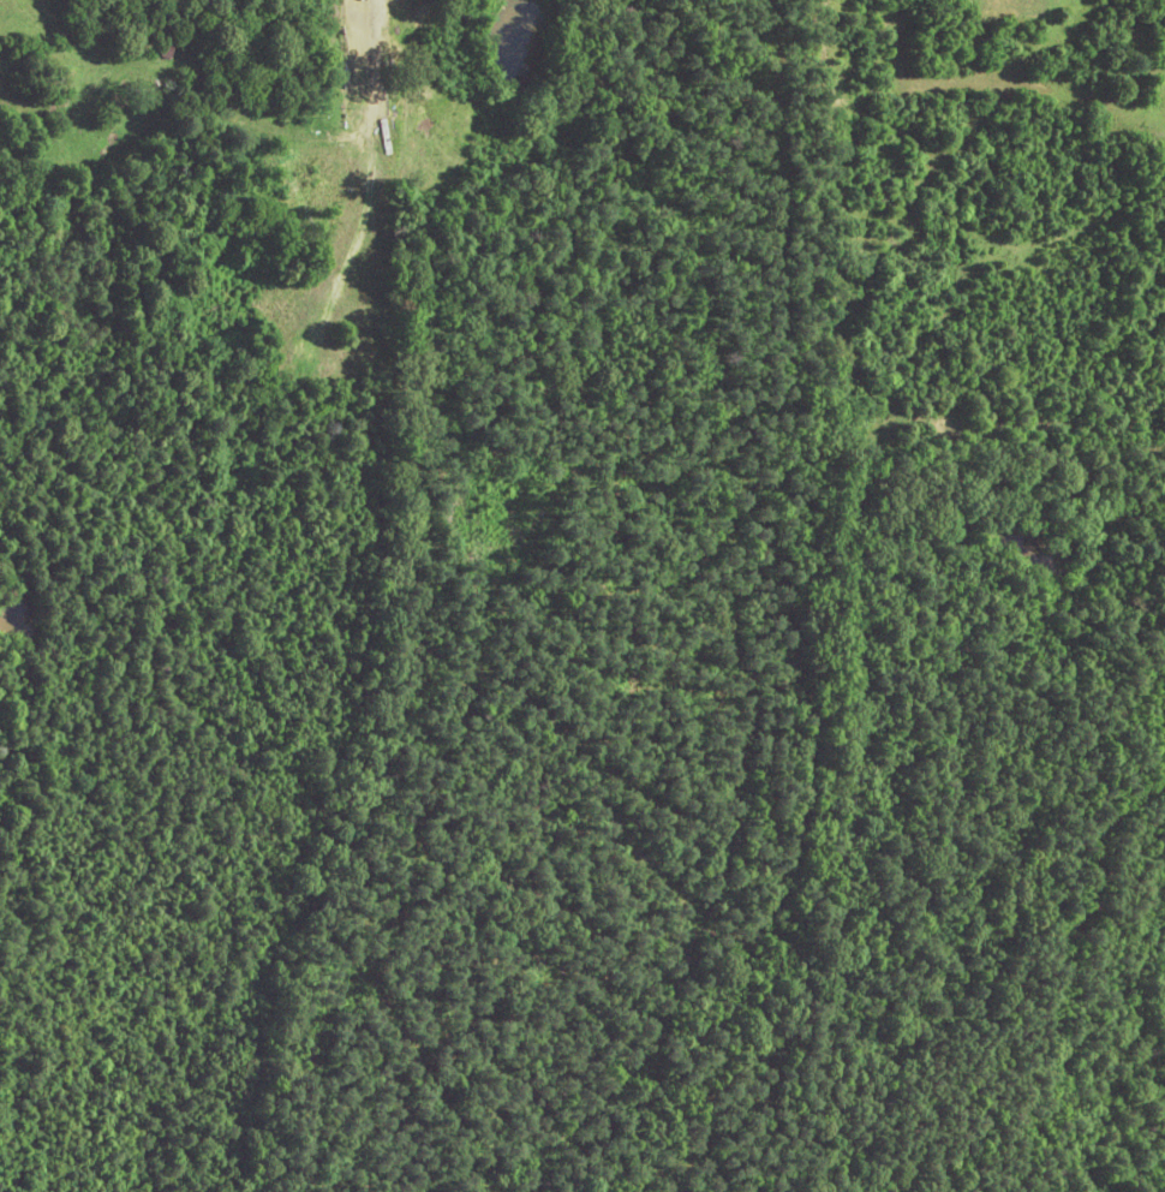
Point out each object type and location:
road: (227, 76)

